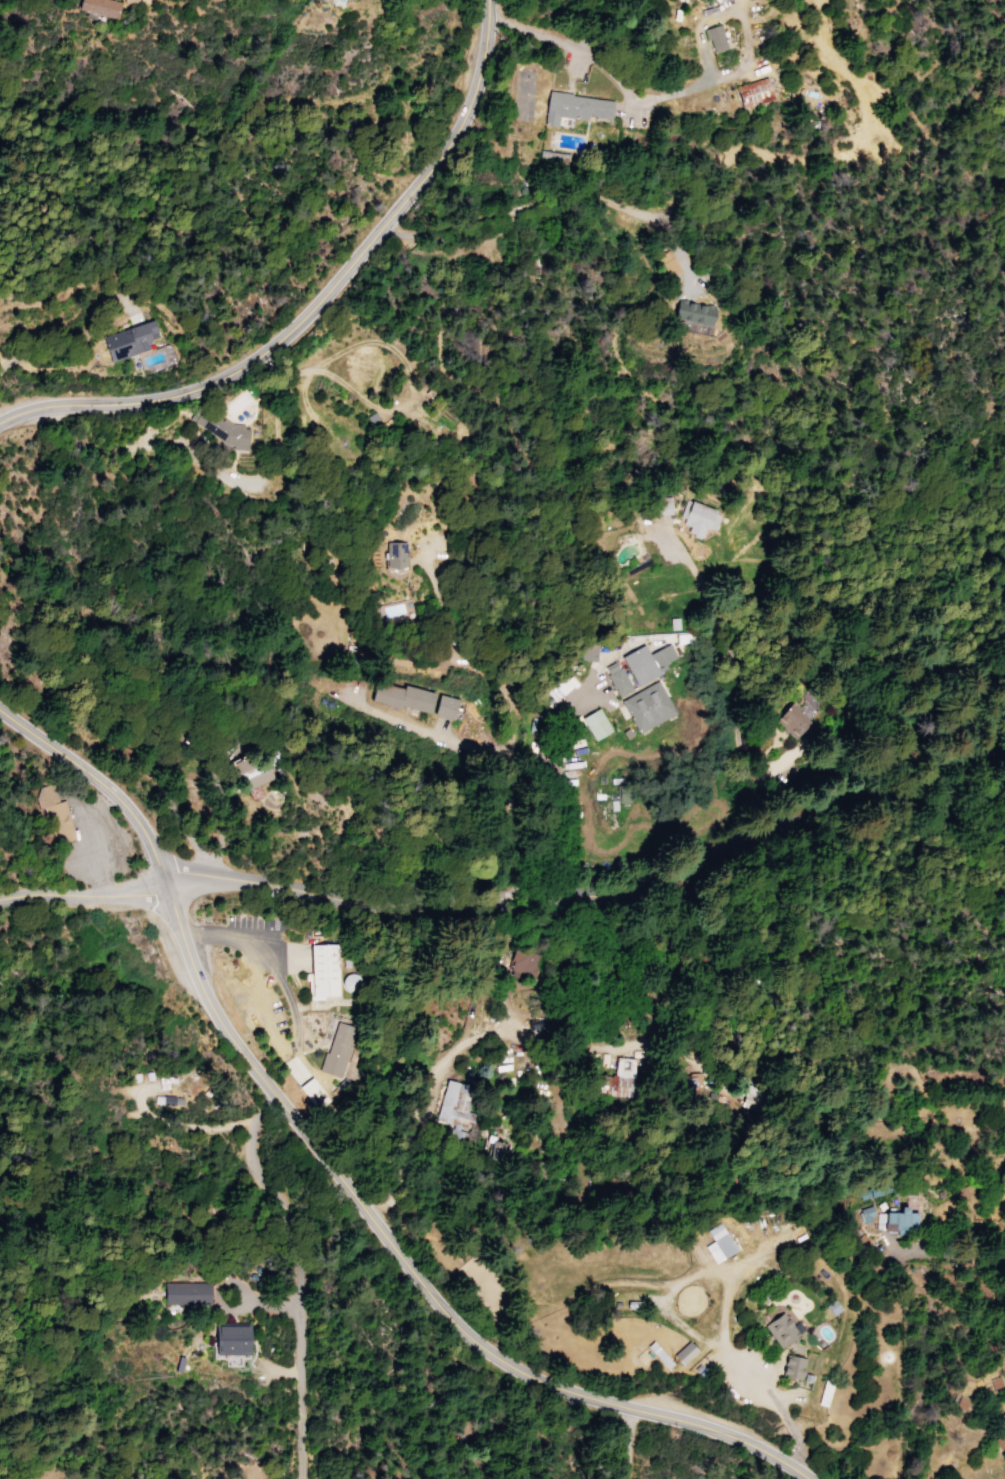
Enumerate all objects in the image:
building: (126, 0)
building: (106, 8)
road: (700, 32)
building: (712, 37)
road: (571, 65)
building: (746, 92)
road: (637, 104)
building: (570, 105)
building: (662, 265)
road: (318, 299)
building: (683, 312)
road: (76, 337)
building: (132, 341)
building: (226, 429)
road: (171, 446)
building: (662, 506)
building: (703, 519)
building: (400, 555)
building: (586, 655)
building: (650, 661)
building: (563, 687)
building: (421, 700)
building: (643, 700)
building: (594, 725)
road: (442, 737)
building: (260, 766)
road: (560, 776)
road: (97, 781)
building: (245, 781)
road: (513, 784)
building: (55, 816)
road: (88, 854)
road: (598, 893)
road: (83, 895)
building: (329, 971)
building: (355, 981)
storage tank: (355, 981)
road: (294, 1029)
building: (336, 1047)
building: (611, 1077)
building: (314, 1092)
building: (180, 1100)
building: (454, 1105)
road: (418, 1106)
road: (178, 1123)
building: (863, 1216)
building: (905, 1221)
building: (716, 1244)
road: (958, 1252)
road: (409, 1267)
water tower: (257, 1269)
water tower: (251, 1277)
road: (295, 1279)
building: (186, 1295)
road: (227, 1305)
building: (784, 1331)
building: (232, 1341)
road: (728, 1345)
building: (682, 1355)
building: (660, 1360)
building: (796, 1367)
road: (628, 1443)
building: (1000, 1443)

